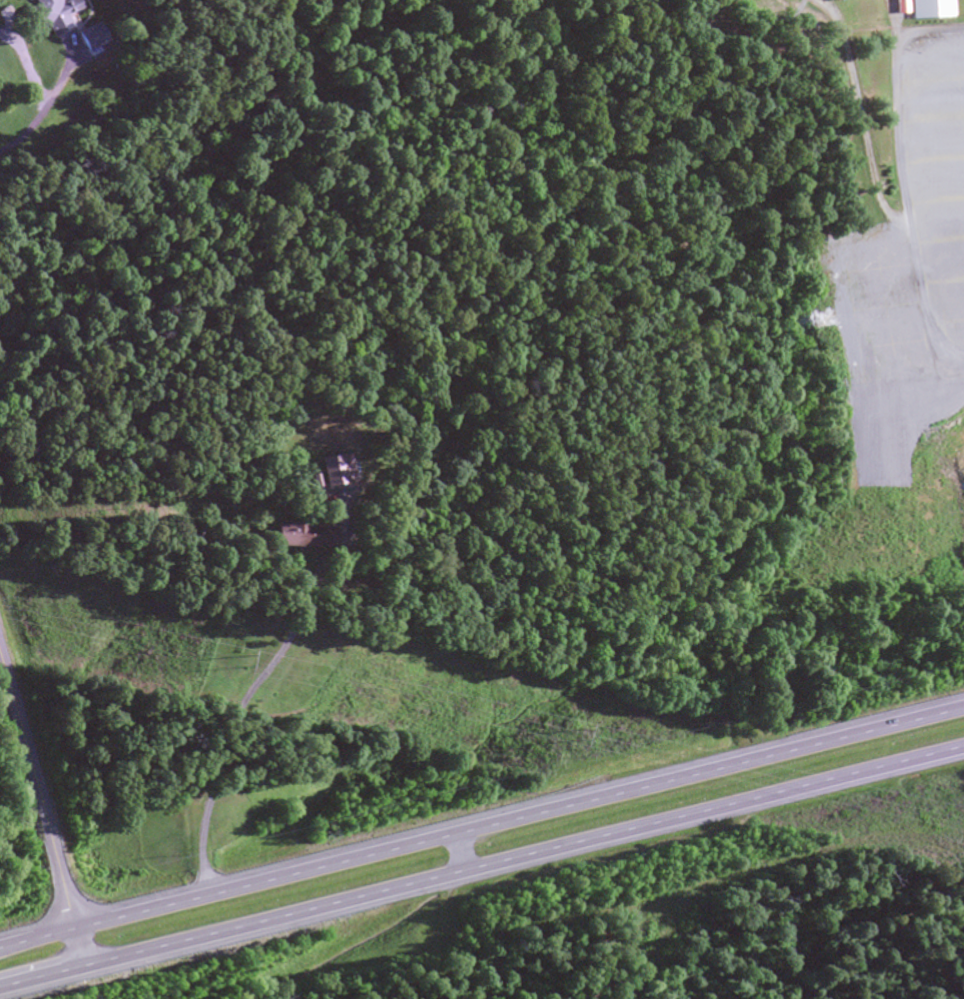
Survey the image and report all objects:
building: (902, 5)
building: (51, 16)
building: (86, 38)
road: (928, 61)
road: (930, 96)
road: (933, 138)
road: (906, 175)
water park: (874, 178)
road: (935, 179)
road: (937, 216)
road: (940, 256)
road: (943, 298)
parking lot: (891, 317)
building: (336, 467)
building: (298, 537)
power tower: (244, 659)
power tower: (562, 729)
road: (42, 813)
road: (481, 827)
road: (482, 869)

